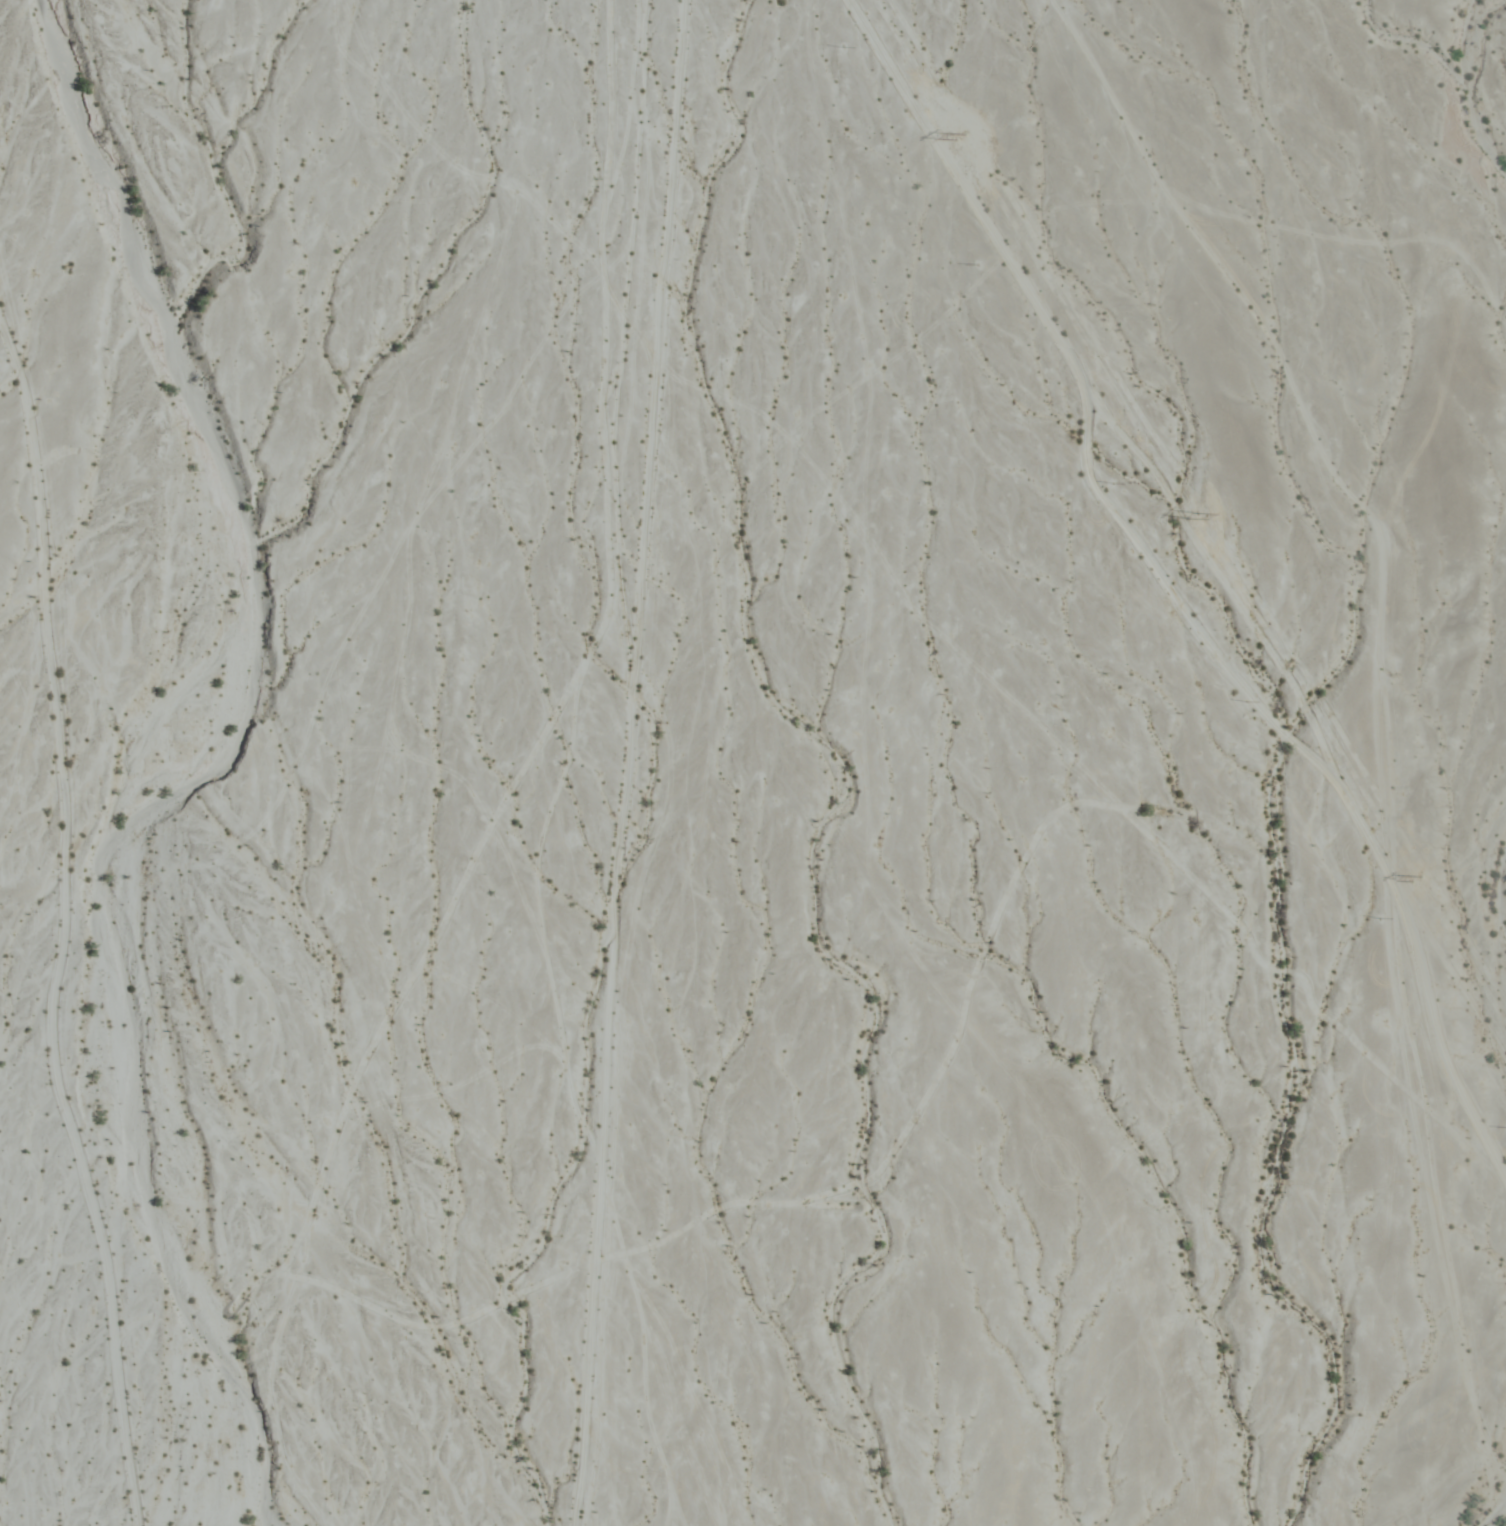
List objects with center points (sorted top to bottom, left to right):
power tower: (959, 140)
power tower: (1190, 512)
road: (1174, 586)
road: (634, 763)
power tower: (1416, 881)
road: (64, 928)

